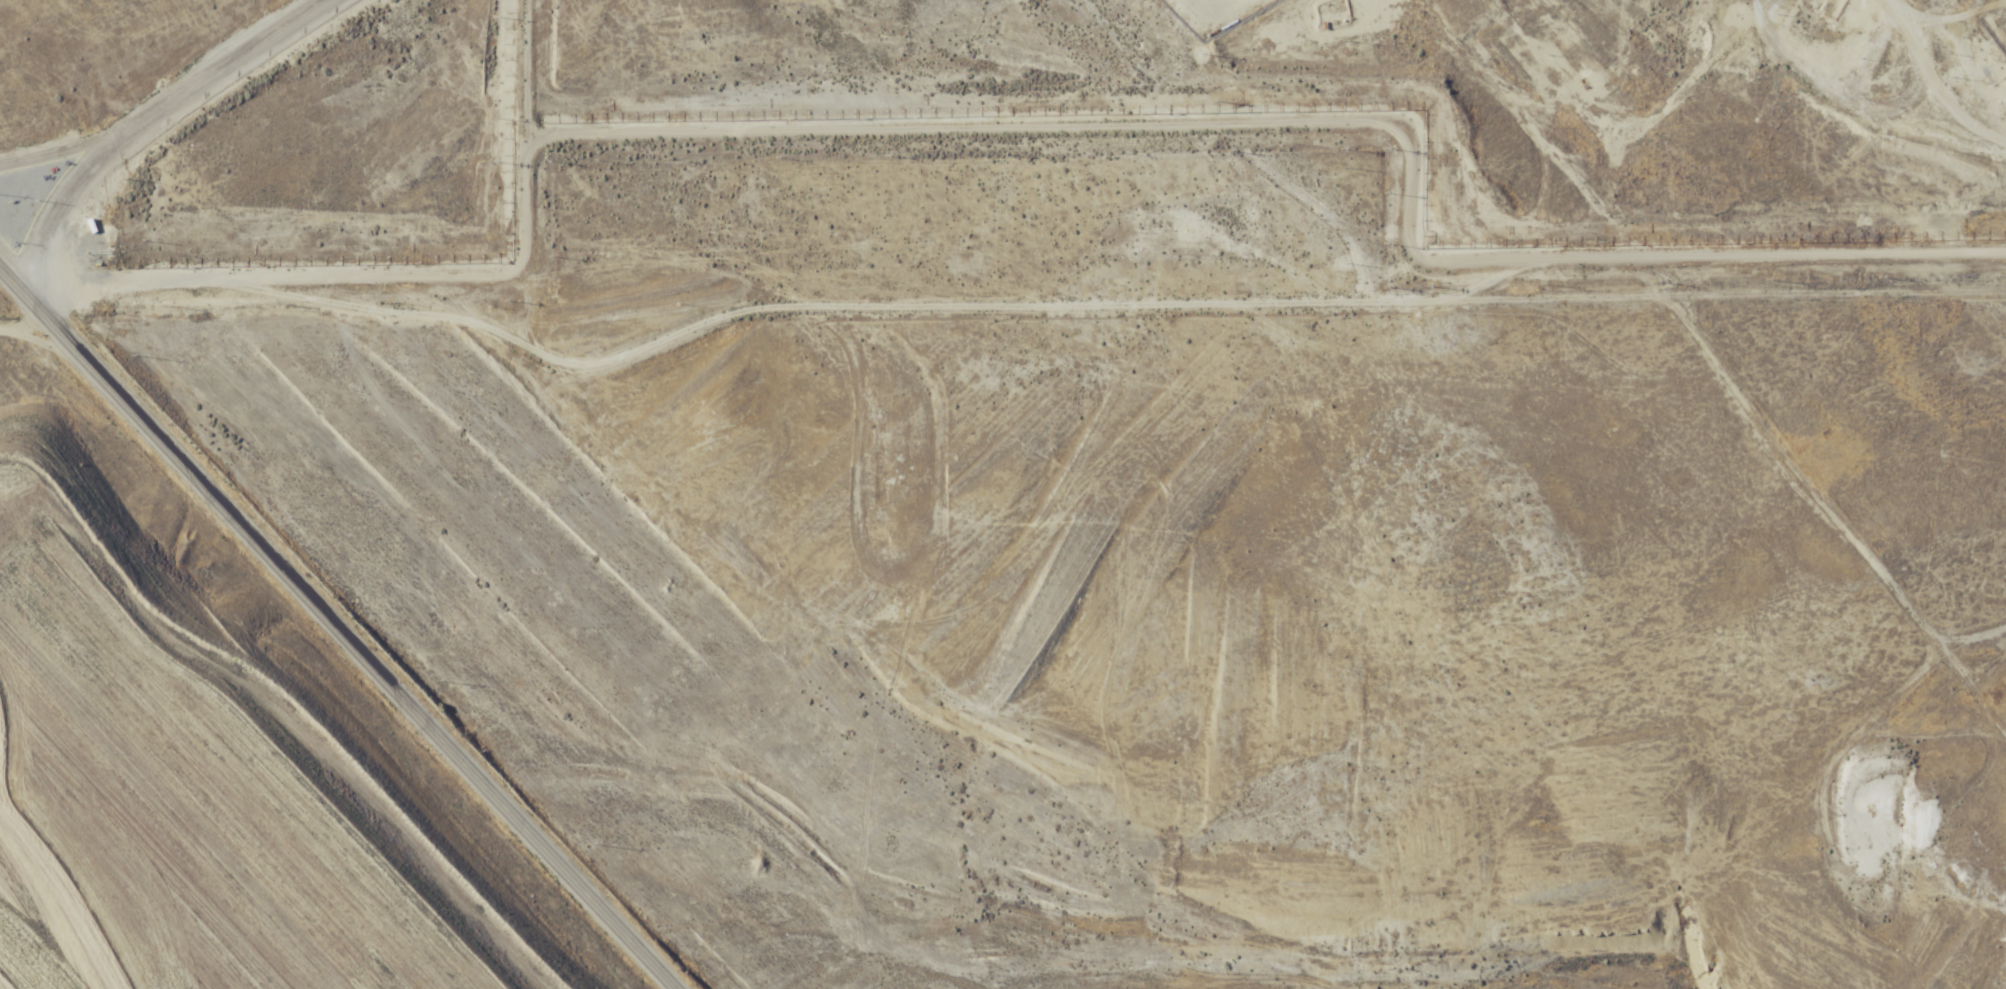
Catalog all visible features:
building: (1801, 24)
road: (171, 129)
road: (73, 252)
road: (344, 620)

